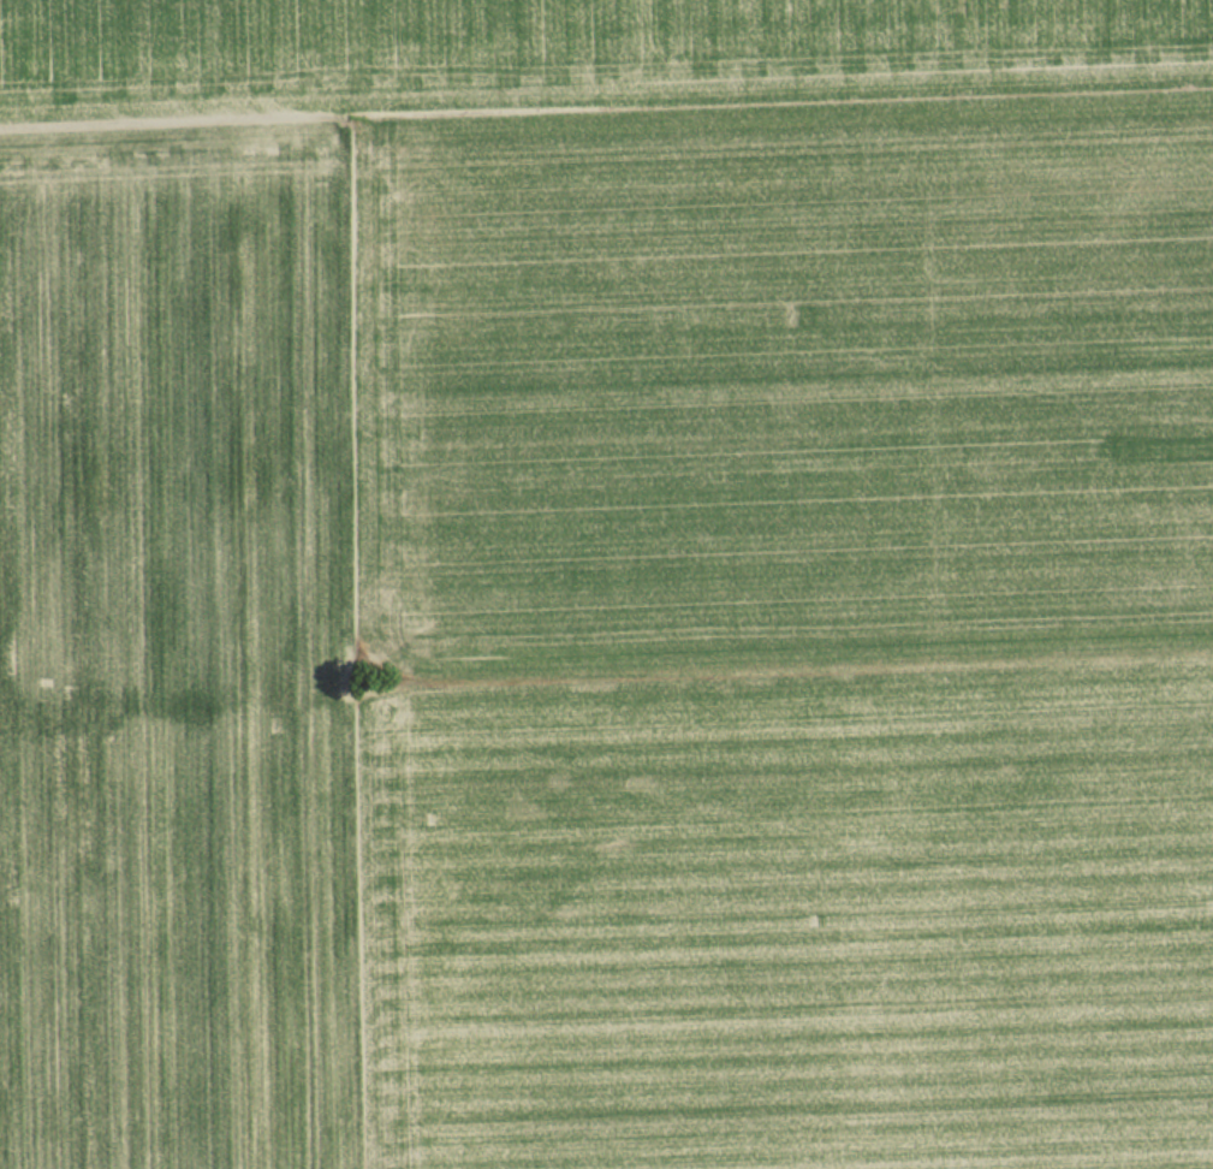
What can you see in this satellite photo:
crop: (571, 36)
crop: (799, 621)
crop: (189, 631)

